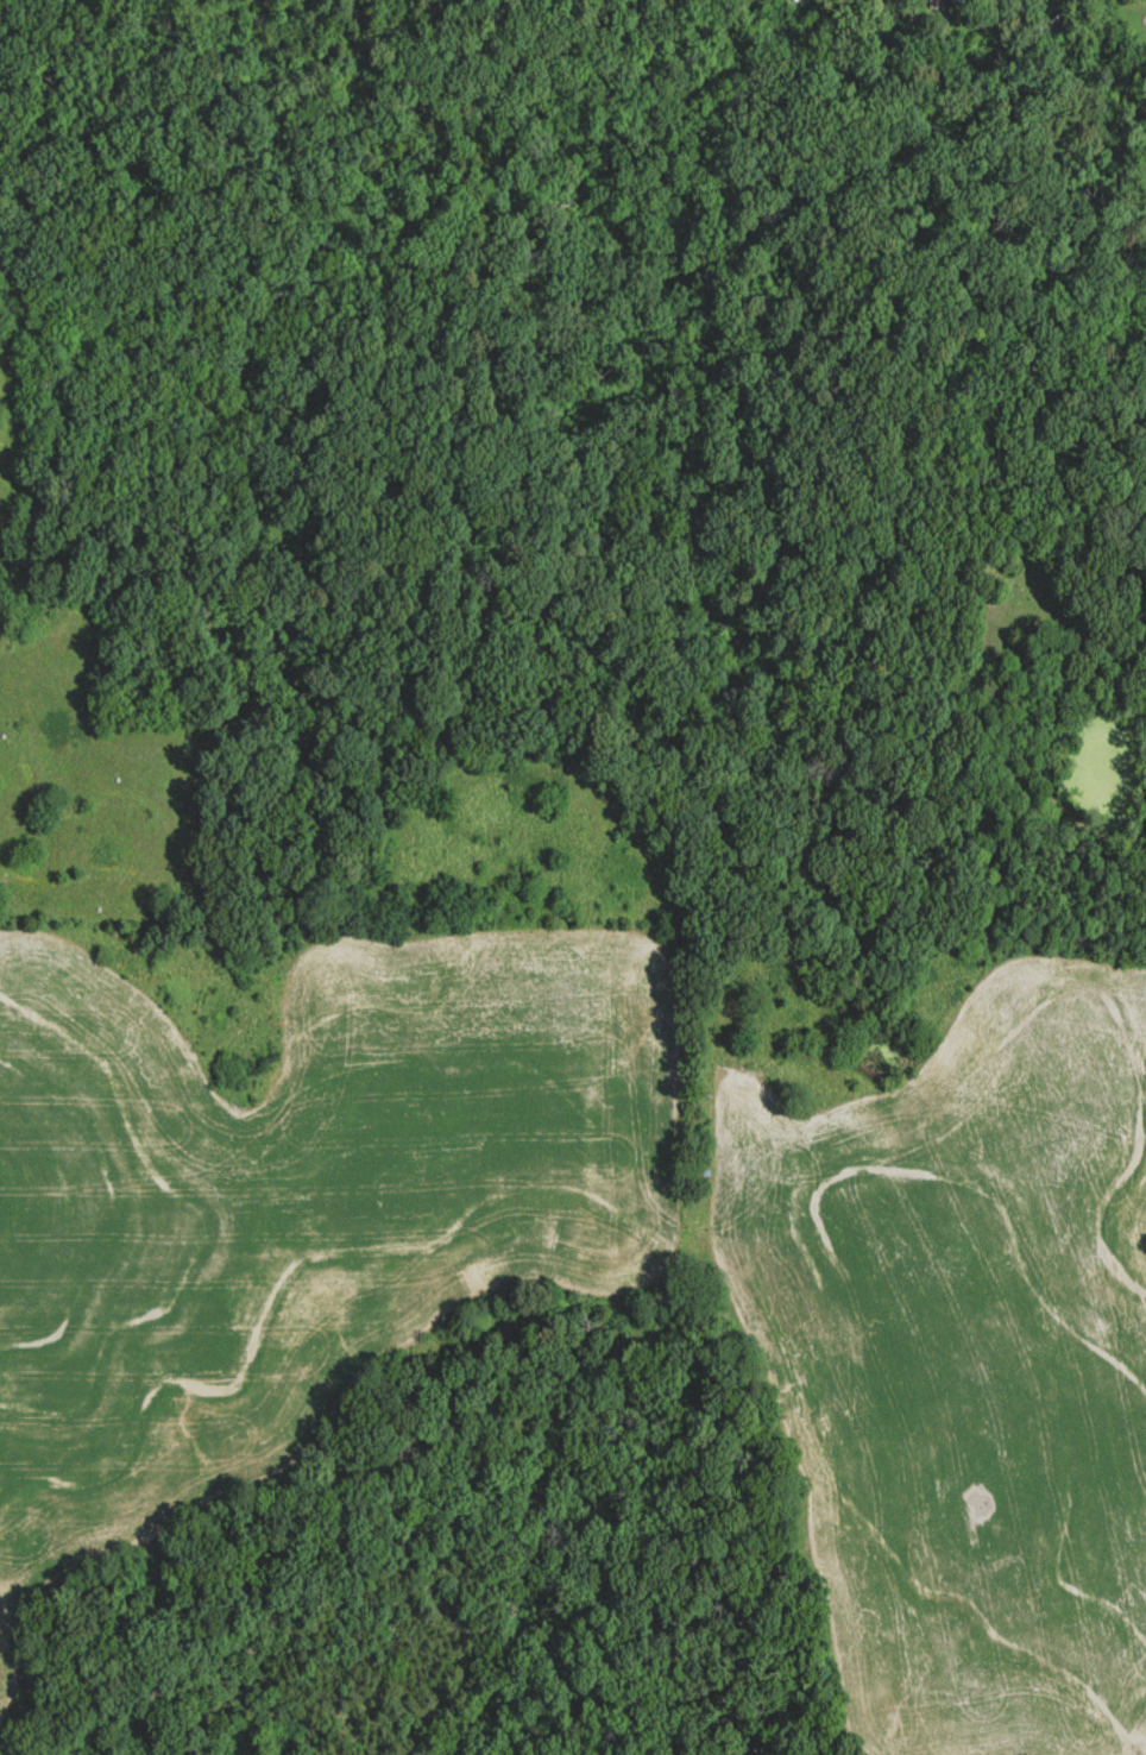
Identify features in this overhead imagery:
building: (962, 0)

